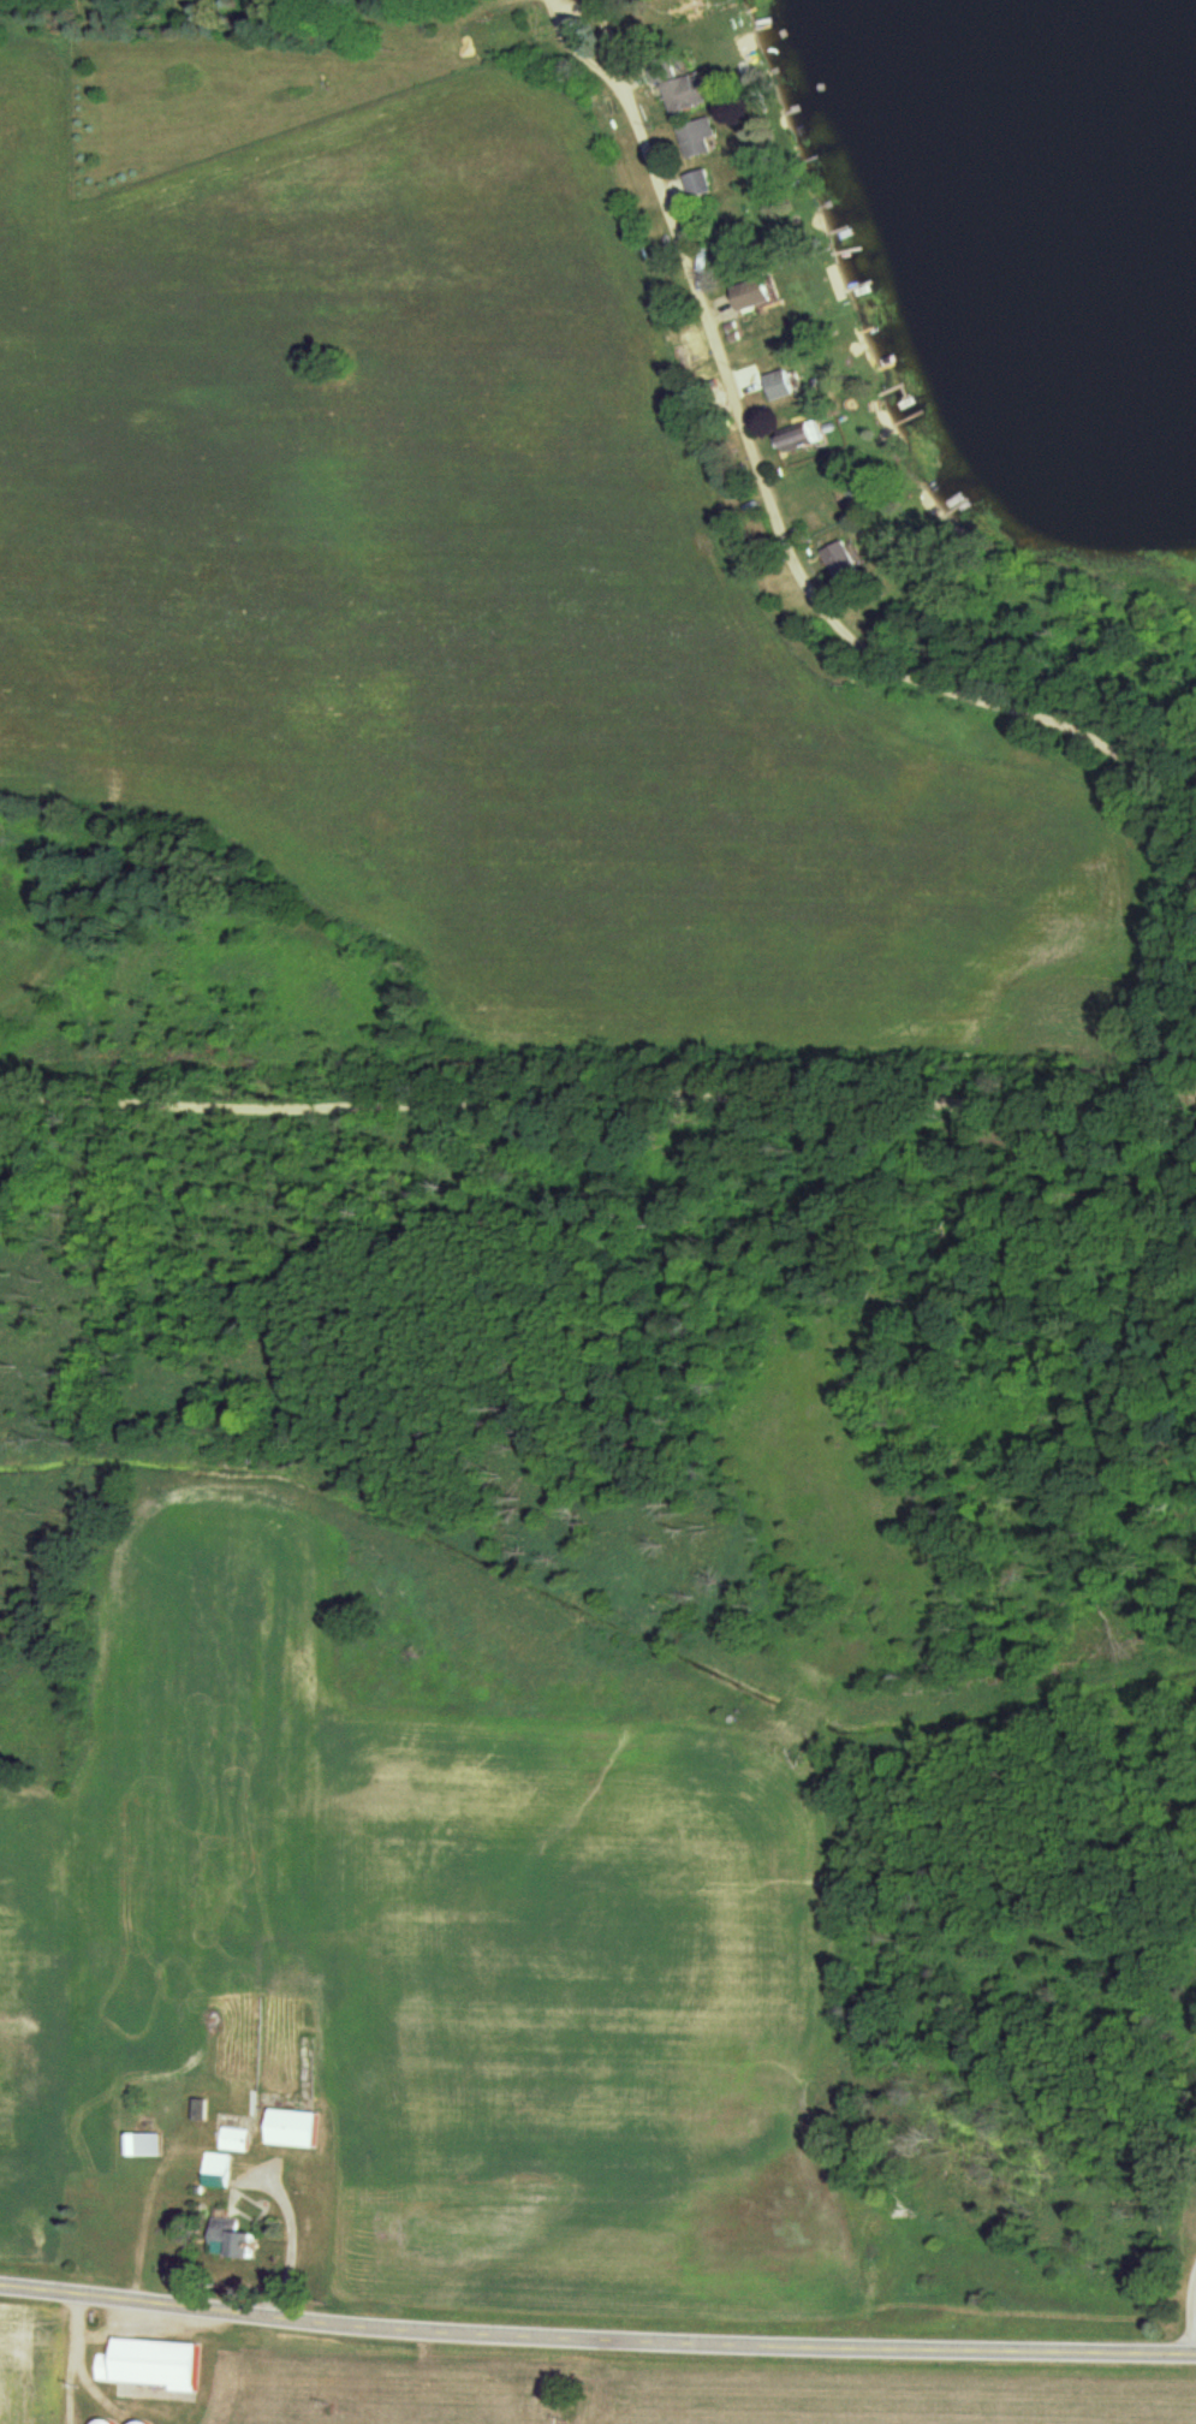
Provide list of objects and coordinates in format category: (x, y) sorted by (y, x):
building: (690, 93)
building: (698, 137)
building: (700, 183)
building: (783, 385)
building: (799, 436)
building: (844, 562)
road: (1166, 967)
building: (244, 2095)
building: (299, 2128)
building: (238, 2139)
building: (149, 2144)
building: (221, 2169)
building: (239, 2241)
road: (34, 2283)
road: (631, 2329)
building: (159, 2364)
building: (108, 2422)

